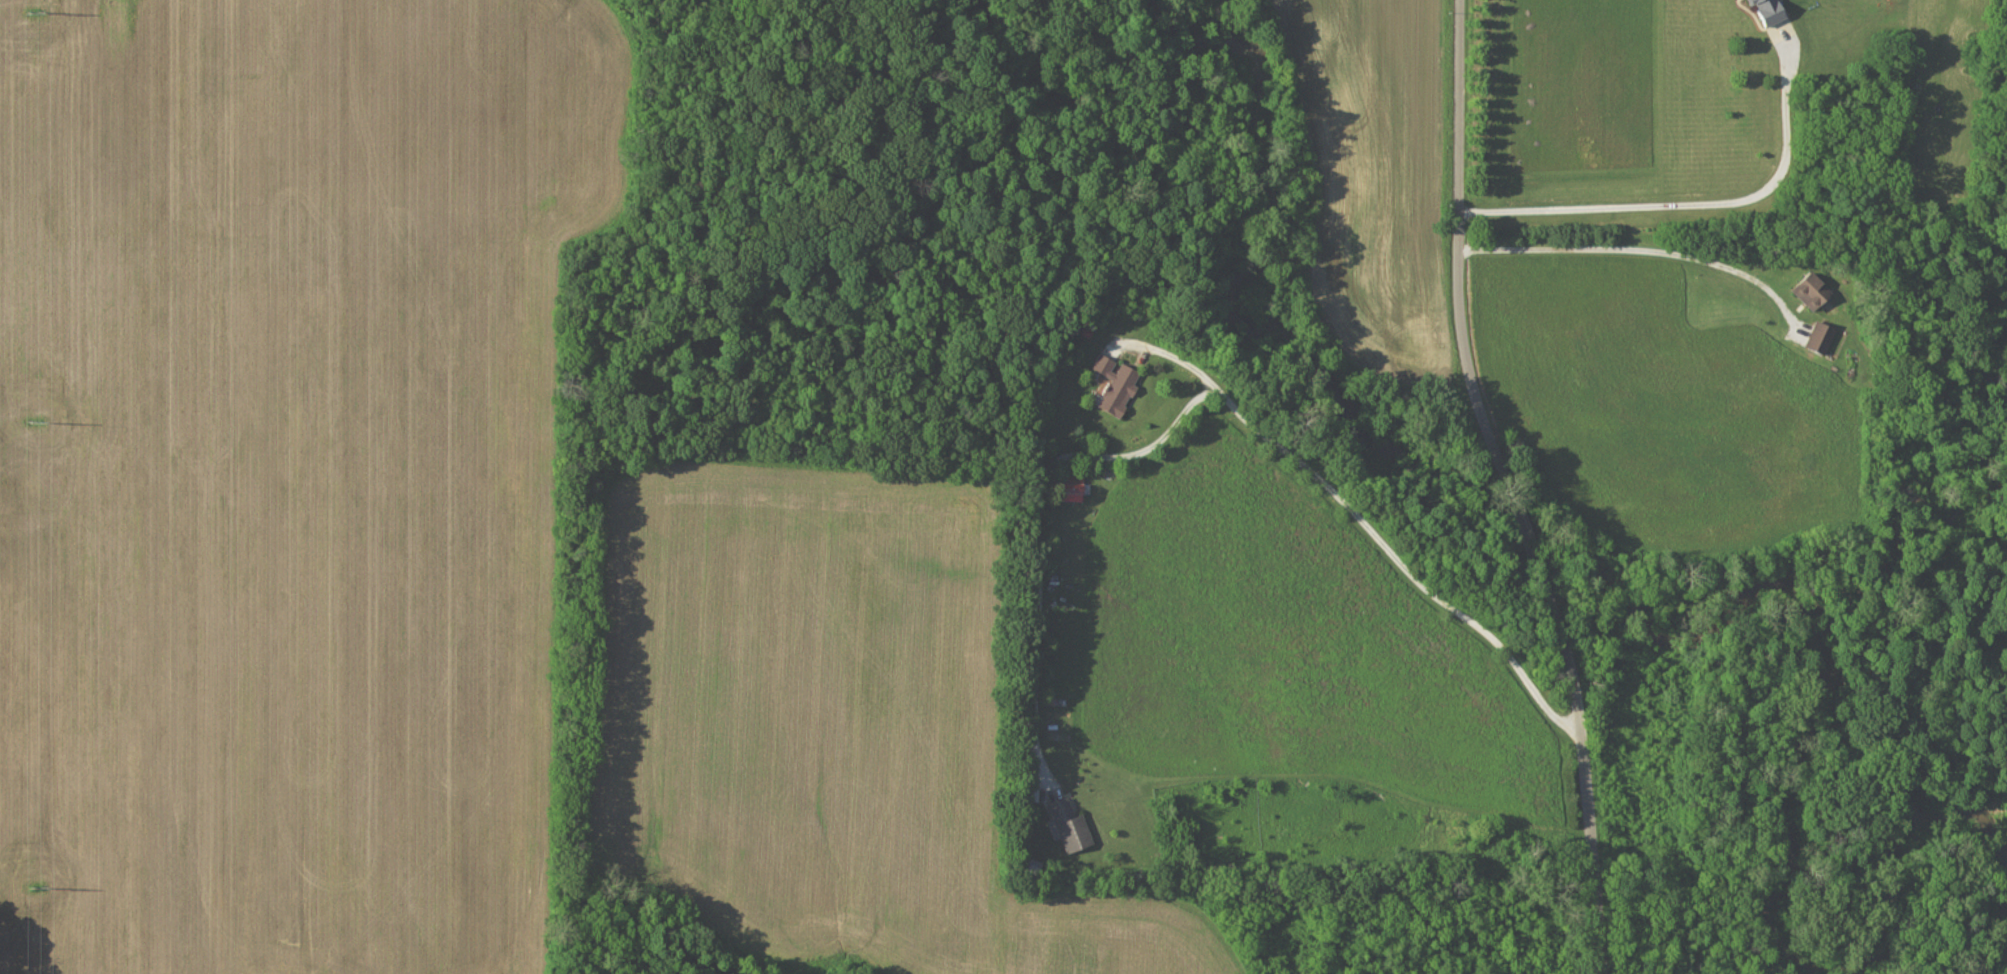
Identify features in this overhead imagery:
building: (1769, 11)
power tower: (35, 13)
road: (1692, 213)
road: (1622, 259)
building: (1821, 337)
building: (1116, 384)
power tower: (39, 421)
building: (1071, 489)
road: (1509, 489)
road: (1356, 513)
road: (1031, 522)
building: (1069, 825)
road: (1708, 875)
power tower: (39, 886)

